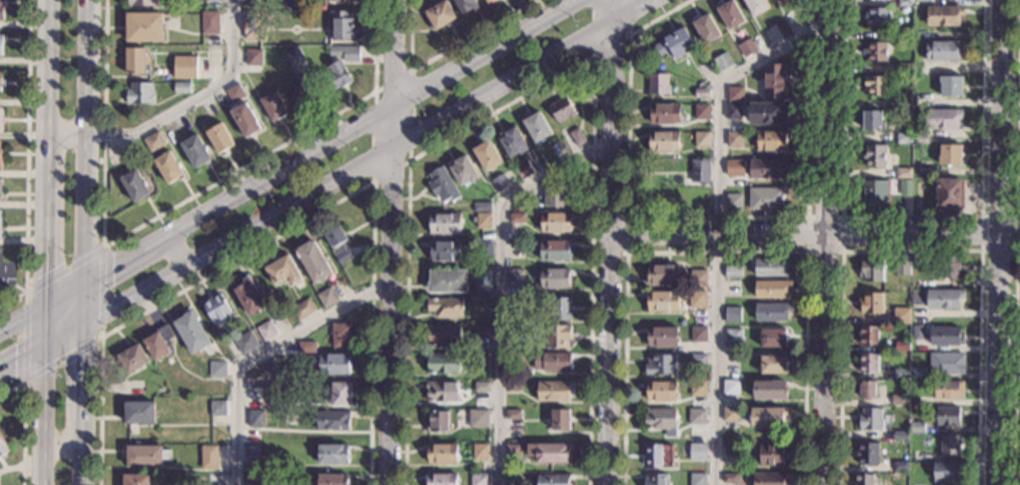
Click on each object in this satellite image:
building: (218, 0)
building: (329, 0)
building: (346, 0)
building: (486, 0)
building: (776, 0)
building: (924, 0)
building: (140, 2)
building: (904, 3)
building: (464, 4)
building: (755, 5)
building: (2, 8)
building: (438, 14)
building: (729, 14)
building: (942, 15)
building: (876, 16)
building: (208, 21)
building: (251, 24)
building: (339, 24)
building: (144, 26)
building: (704, 28)
building: (903, 34)
building: (921, 34)
building: (322, 39)
building: (674, 42)
building: (1, 45)
building: (745, 46)
building: (941, 49)
road: (601, 50)
building: (875, 51)
building: (344, 52)
road: (440, 53)
building: (213, 54)
building: (292, 54)
building: (252, 57)
building: (136, 60)
building: (722, 60)
road: (45, 66)
building: (184, 66)
road: (87, 67)
building: (920, 67)
building: (904, 69)
building: (704, 70)
building: (336, 74)
building: (0, 77)
building: (773, 80)
road: (546, 82)
building: (657, 83)
building: (874, 85)
building: (950, 85)
building: (180, 86)
building: (299, 88)
building: (232, 91)
building: (139, 92)
building: (700, 92)
building: (734, 92)
road: (193, 97)
building: (920, 99)
building: (903, 102)
building: (272, 106)
building: (560, 108)
building: (733, 110)
road: (1018, 110)
building: (701, 111)
building: (767, 111)
building: (663, 113)
building: (940, 118)
building: (244, 119)
building: (871, 119)
building: (0, 120)
building: (535, 126)
road: (66, 133)
building: (574, 136)
building: (218, 137)
building: (903, 137)
building: (920, 138)
building: (700, 139)
building: (734, 139)
building: (770, 139)
building: (153, 140)
building: (662, 140)
building: (511, 142)
building: (194, 151)
building: (128, 152)
building: (486, 154)
building: (949, 154)
building: (874, 156)
building: (0, 159)
road: (26, 160)
road: (409, 160)
building: (167, 167)
road: (290, 168)
building: (734, 168)
building: (766, 168)
building: (462, 170)
building: (523, 170)
building: (698, 171)
building: (902, 172)
building: (499, 182)
building: (134, 185)
road: (321, 185)
building: (441, 185)
building: (510, 185)
building: (904, 187)
building: (1, 189)
building: (873, 191)
building: (947, 193)
building: (555, 196)
building: (666, 196)
building: (700, 196)
building: (766, 198)
building: (732, 201)
building: (516, 205)
building: (480, 206)
road: (171, 207)
road: (981, 216)
building: (516, 217)
road: (909, 217)
road: (697, 218)
road: (304, 220)
building: (482, 220)
building: (553, 221)
building: (443, 222)
road: (717, 222)
building: (0, 223)
road: (814, 234)
road: (625, 237)
road: (391, 242)
road: (610, 242)
road: (827, 242)
road: (1000, 242)
building: (336, 243)
building: (483, 247)
building: (514, 248)
building: (444, 249)
building: (553, 249)
road: (912, 250)
road: (174, 252)
road: (716, 252)
road: (841, 252)
building: (311, 260)
building: (950, 265)
building: (770, 267)
building: (900, 268)
building: (282, 269)
building: (869, 269)
building: (732, 271)
building: (661, 274)
building: (514, 276)
building: (553, 277)
building: (697, 277)
building: (446, 280)
building: (481, 280)
road: (499, 282)
road: (86, 285)
traffic signals: (86, 286)
building: (770, 287)
building: (248, 295)
building: (326, 296)
building: (937, 297)
building: (696, 299)
building: (662, 300)
building: (514, 301)
building: (869, 302)
building: (444, 306)
building: (480, 306)
building: (301, 308)
building: (559, 308)
road: (46, 309)
building: (216, 309)
traffic signals: (46, 310)
building: (770, 311)
building: (731, 314)
building: (900, 315)
traffic signals: (86, 320)
building: (514, 328)
building: (265, 330)
building: (478, 330)
building: (916, 331)
building: (191, 332)
building: (340, 334)
building: (442, 334)
building: (555, 334)
building: (698, 334)
building: (660, 335)
building: (866, 335)
building: (944, 335)
road: (100, 336)
building: (771, 336)
building: (732, 339)
building: (158, 341)
building: (244, 342)
traffic signals: (45, 343)
building: (900, 345)
building: (305, 346)
road: (262, 351)
building: (513, 357)
building: (132, 358)
building: (480, 358)
building: (697, 358)
building: (550, 360)
building: (331, 362)
building: (866, 362)
building: (945, 362)
building: (441, 363)
building: (659, 363)
building: (771, 363)
road: (1014, 365)
building: (268, 367)
building: (215, 368)
building: (899, 372)
building: (916, 372)
building: (512, 385)
building: (480, 386)
building: (729, 386)
building: (697, 388)
building: (158, 389)
building: (768, 389)
building: (865, 389)
building: (948, 389)
building: (251, 390)
building: (551, 390)
building: (660, 390)
building: (440, 391)
building: (339, 393)
building: (898, 399)
building: (915, 400)
building: (217, 406)
building: (138, 412)
building: (512, 413)
building: (728, 413)
building: (695, 416)
building: (766, 416)
building: (946, 416)
building: (255, 418)
building: (558, 418)
building: (868, 418)
building: (330, 419)
building: (477, 419)
building: (659, 419)
road: (22, 420)
building: (436, 420)
building: (915, 426)
building: (898, 435)
road: (63, 443)
building: (948, 444)
building: (3, 447)
building: (730, 449)
building: (250, 451)
building: (478, 451)
building: (512, 451)
building: (548, 451)
building: (695, 451)
building: (441, 452)
building: (331, 453)
building: (866, 453)
building: (656, 454)
building: (770, 454)
building: (145, 455)
building: (207, 457)
road: (82, 460)
road: (2, 464)
building: (899, 466)
road: (10, 467)
building: (947, 471)
building: (729, 477)
building: (331, 478)
building: (511, 478)
building: (767, 478)
building: (135, 479)
building: (250, 479)
building: (439, 479)
building: (478, 479)
building: (552, 479)
building: (654, 479)
building: (696, 479)
building: (863, 479)
building: (915, 484)

